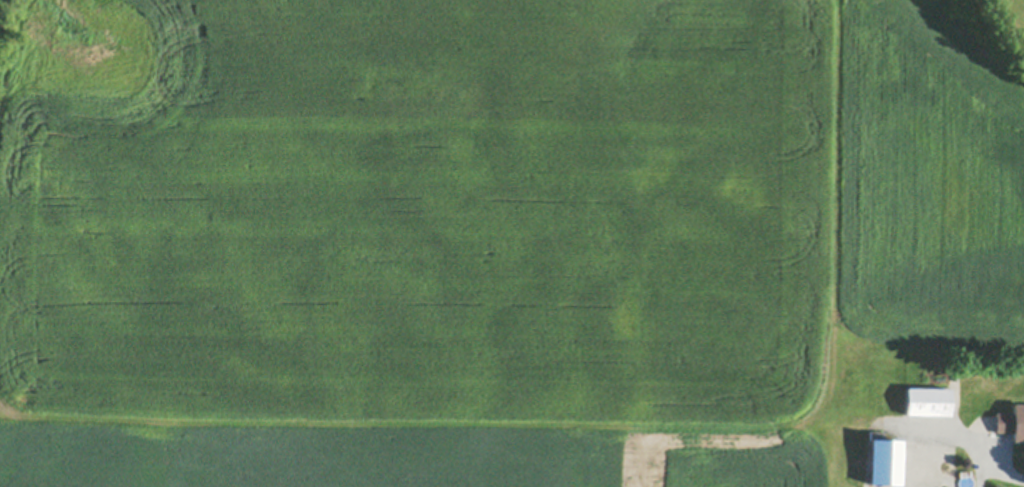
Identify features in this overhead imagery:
building: (929, 402)
building: (1012, 423)
road: (980, 444)
building: (885, 464)

